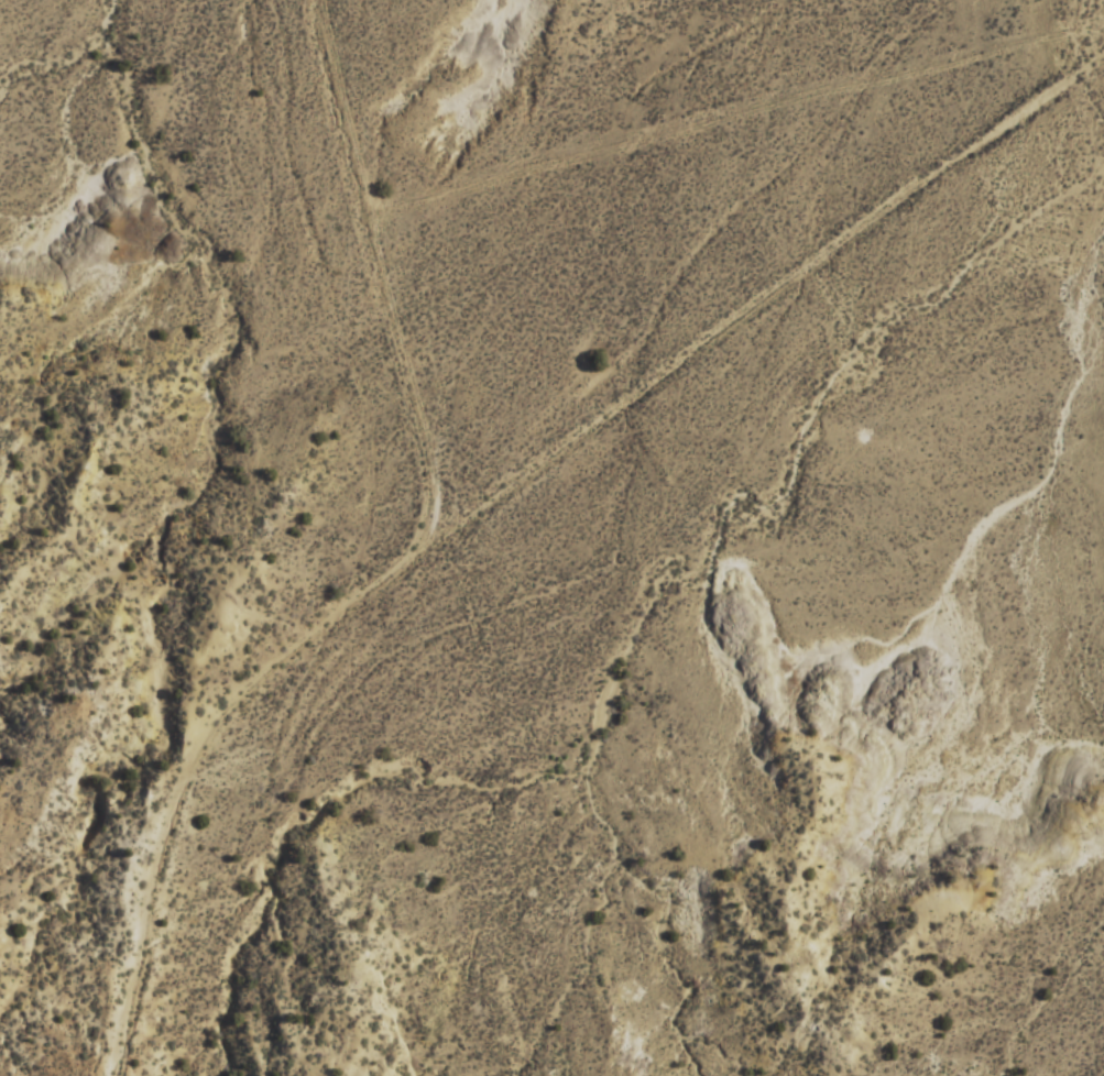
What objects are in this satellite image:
road: (383, 286)
road: (502, 491)

